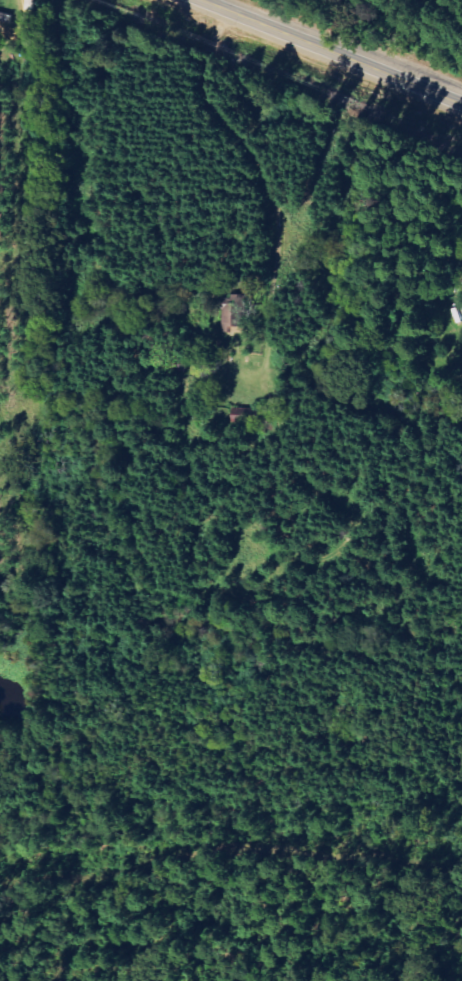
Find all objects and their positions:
road: (331, 51)
road: (238, 140)
building: (233, 314)

